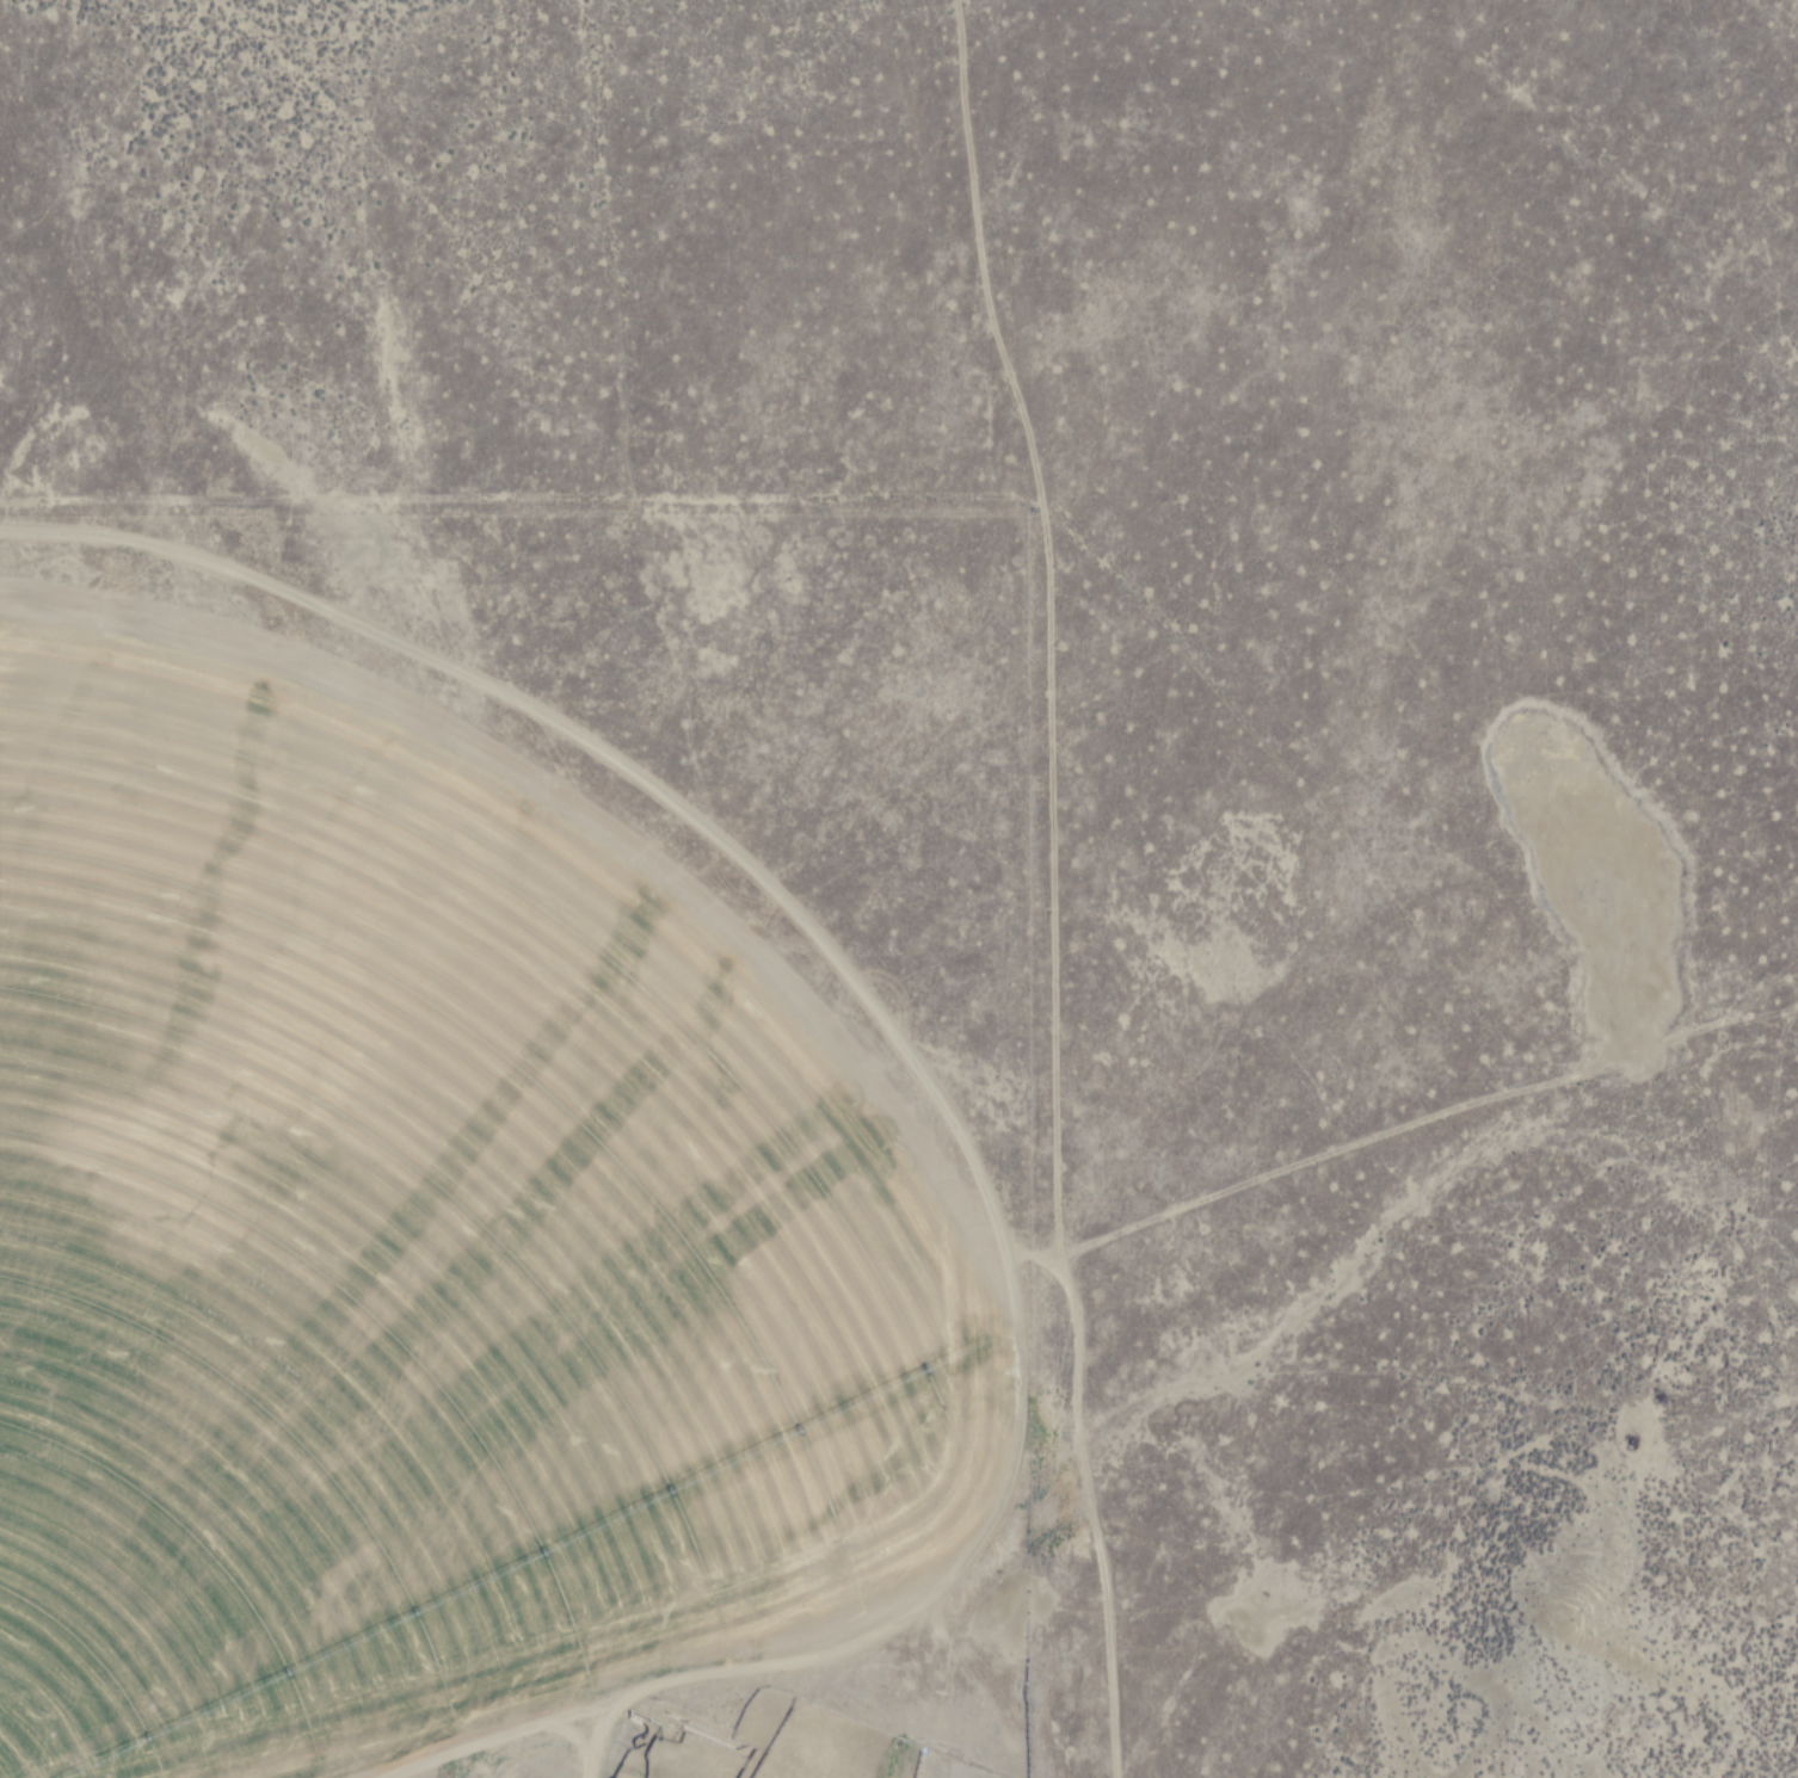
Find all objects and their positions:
road: (1088, 1494)
building: (608, 1777)

